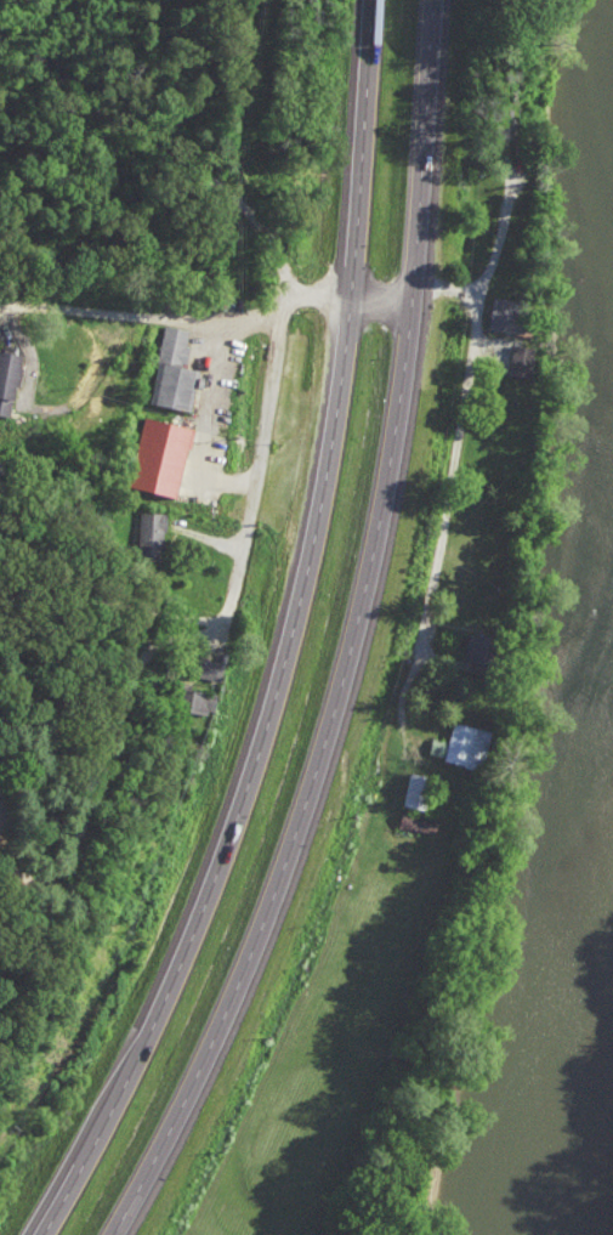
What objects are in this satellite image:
road: (427, 149)
road: (215, 181)
road: (503, 230)
road: (148, 312)
building: (510, 315)
building: (523, 358)
building: (174, 370)
building: (8, 379)
road: (208, 419)
building: (163, 455)
road: (455, 457)
road: (261, 464)
building: (151, 532)
road: (289, 640)
building: (481, 652)
building: (462, 744)
road: (113, 749)
road: (303, 780)
building: (418, 789)
river: (571, 1022)

